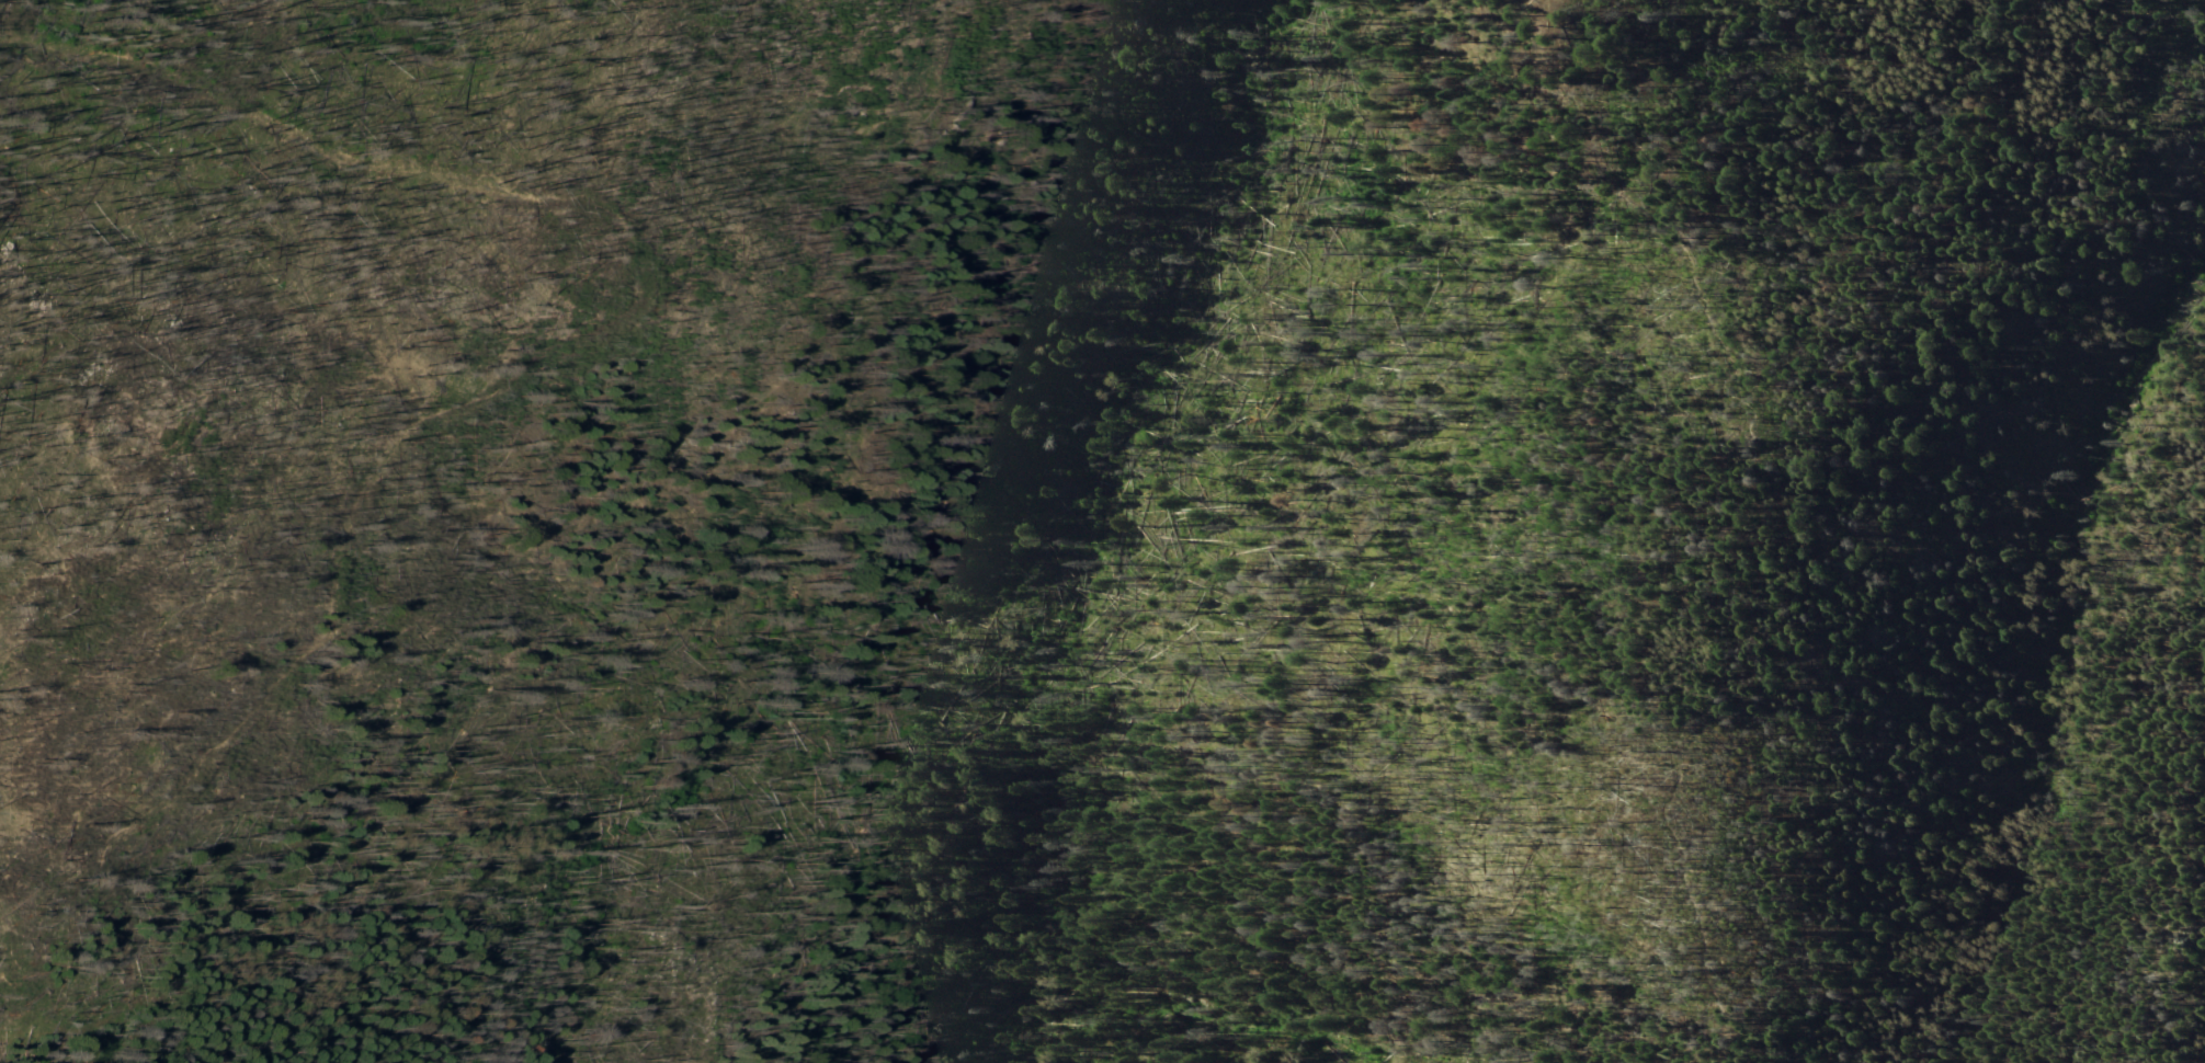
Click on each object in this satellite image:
road: (567, 423)
road: (1746, 518)

